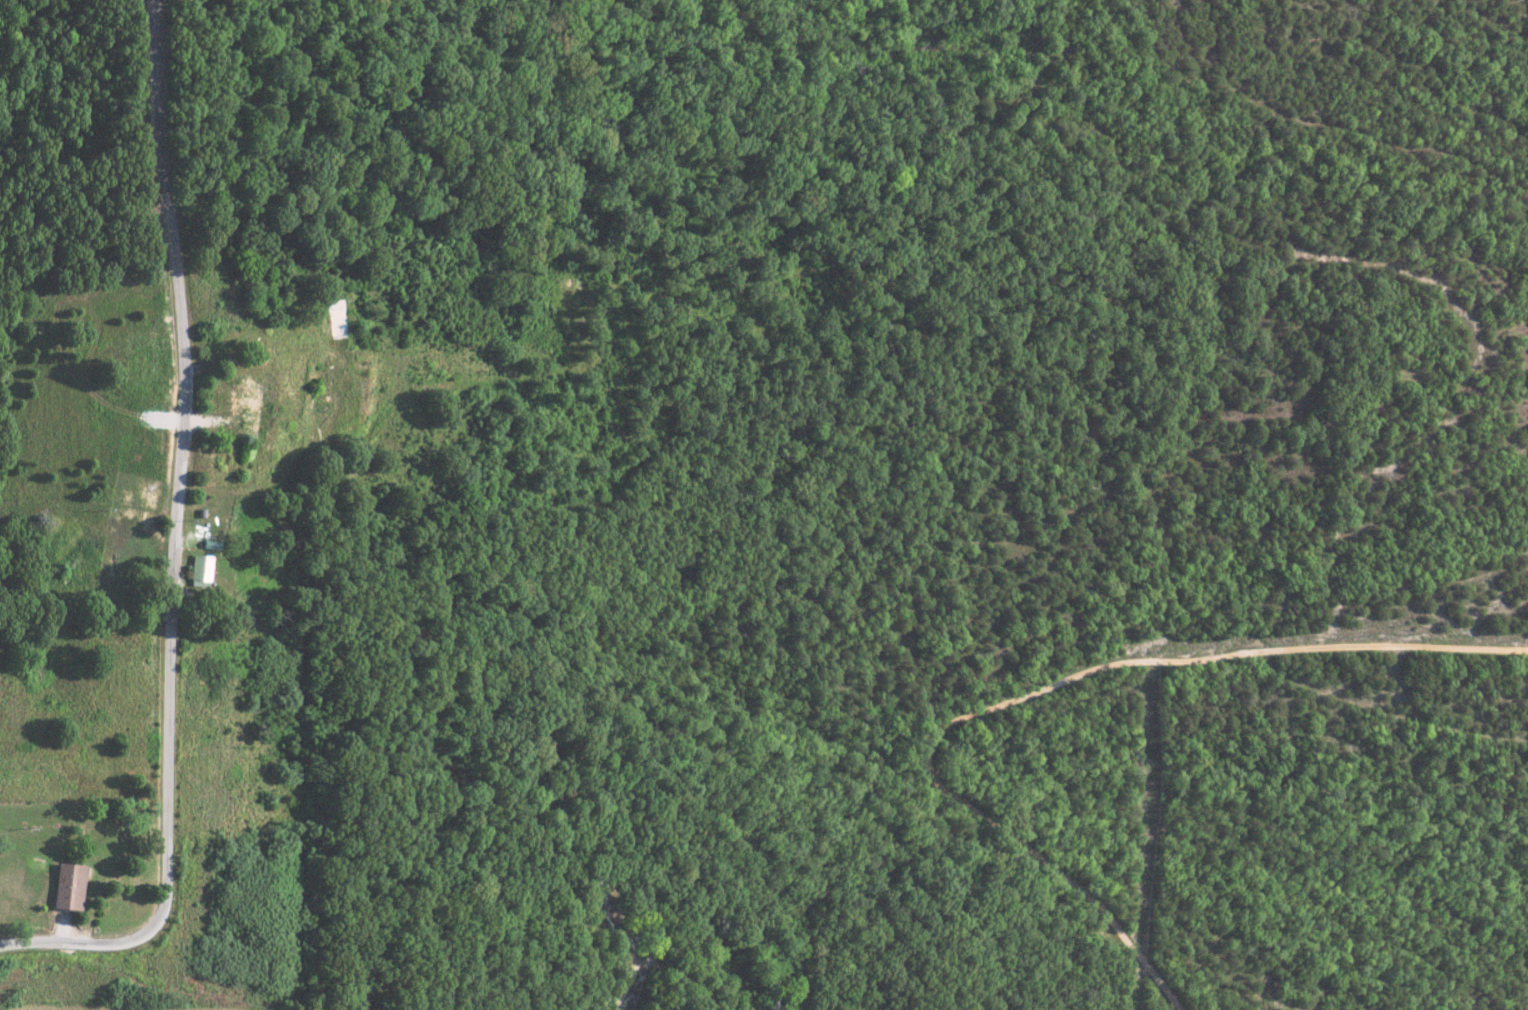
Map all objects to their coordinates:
road: (175, 542)
building: (200, 570)
road: (1038, 689)
building: (67, 886)
road: (628, 976)

